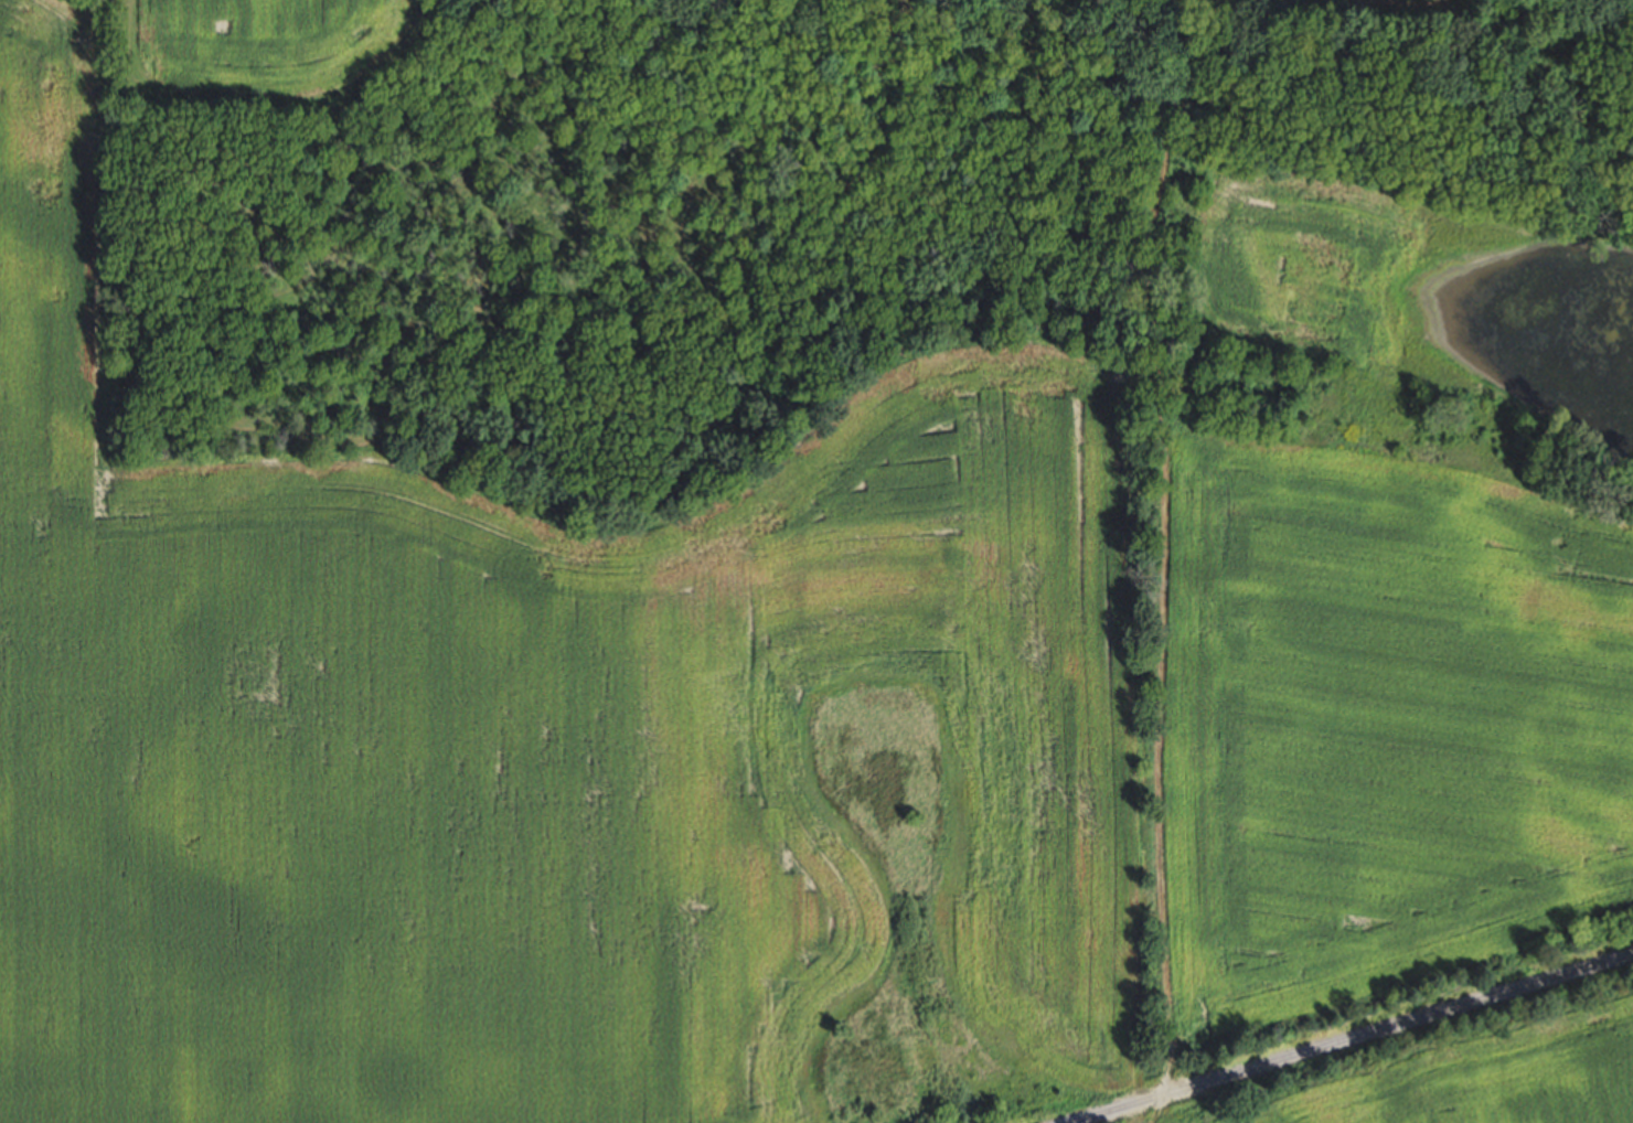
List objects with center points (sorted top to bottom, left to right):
railway: (1347, 1037)

